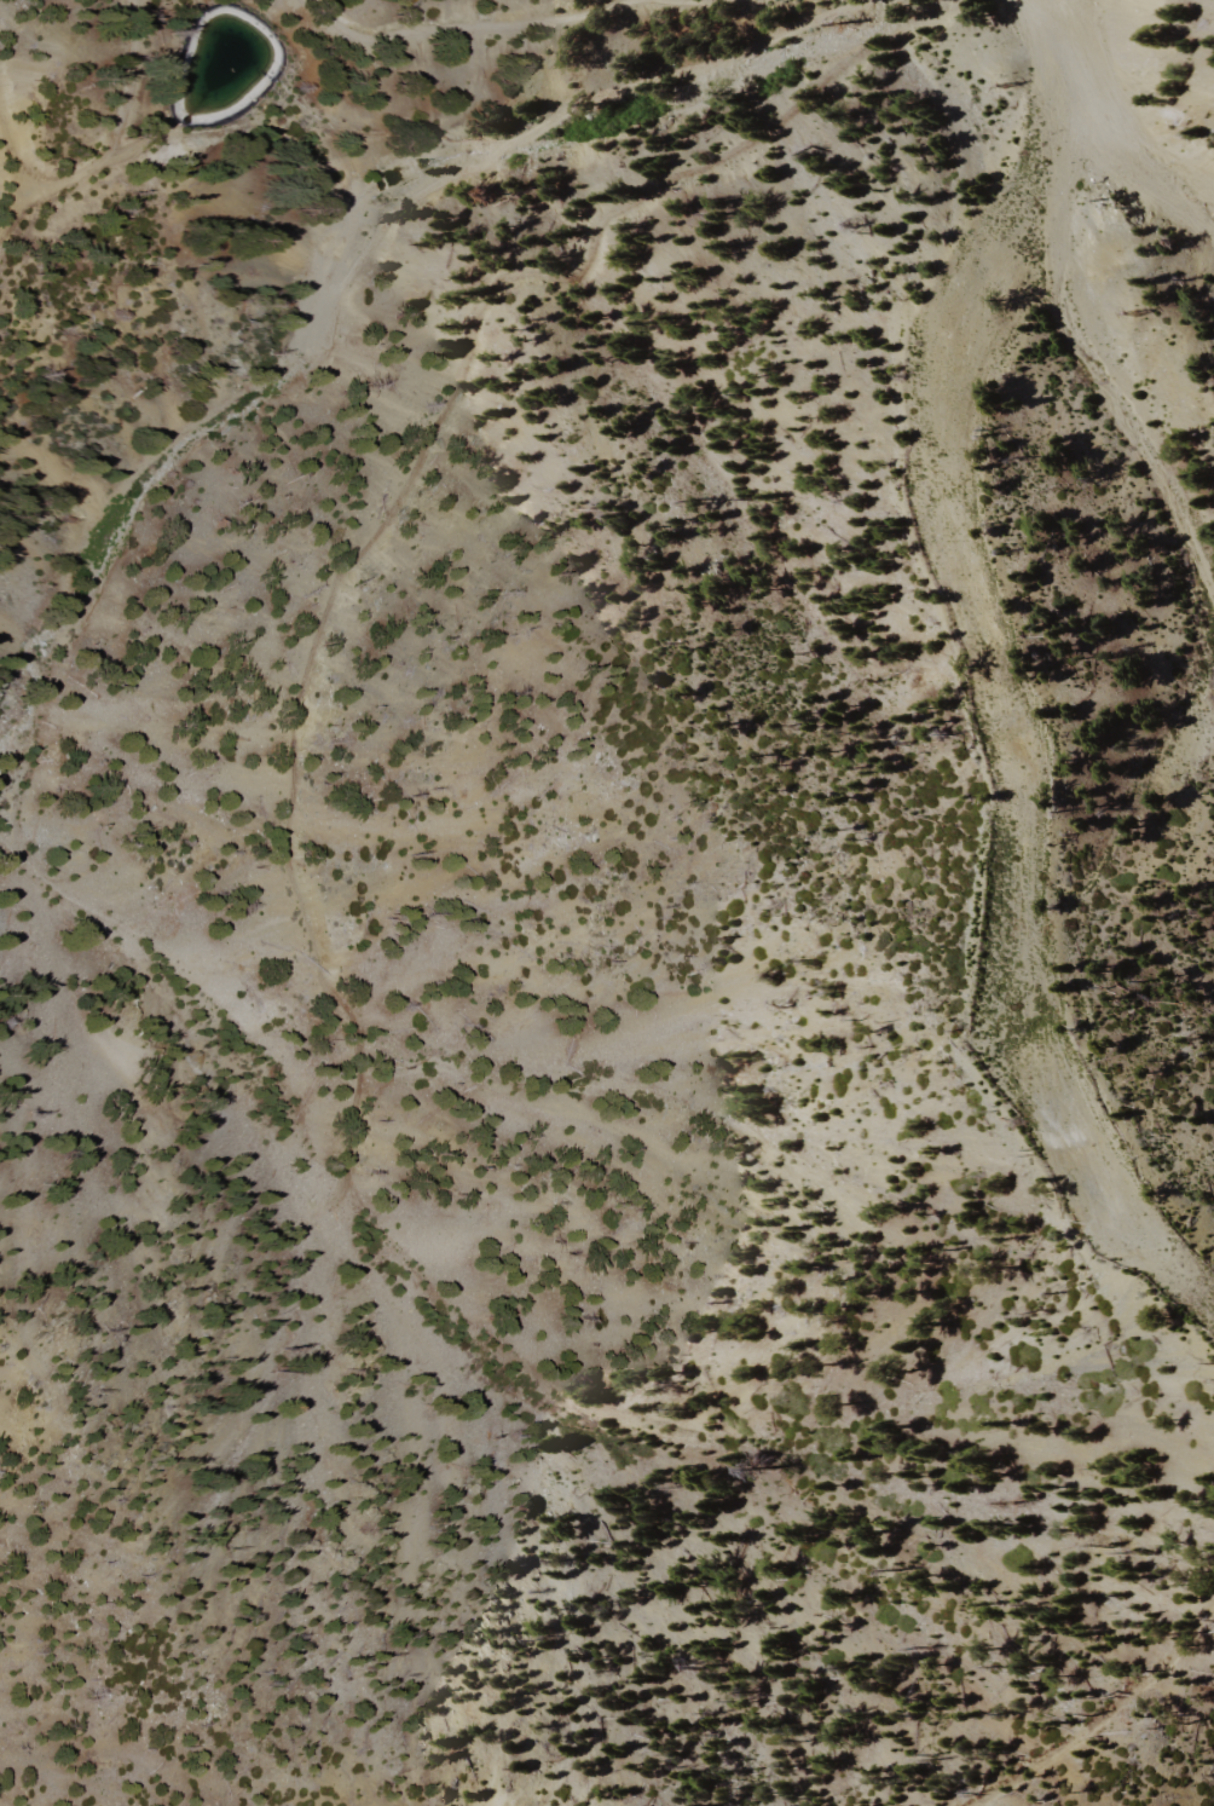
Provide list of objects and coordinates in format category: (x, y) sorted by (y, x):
aerialway pylon: (1008, 94)
aerialway pylon: (1134, 313)
ski resort: (721, 760)

